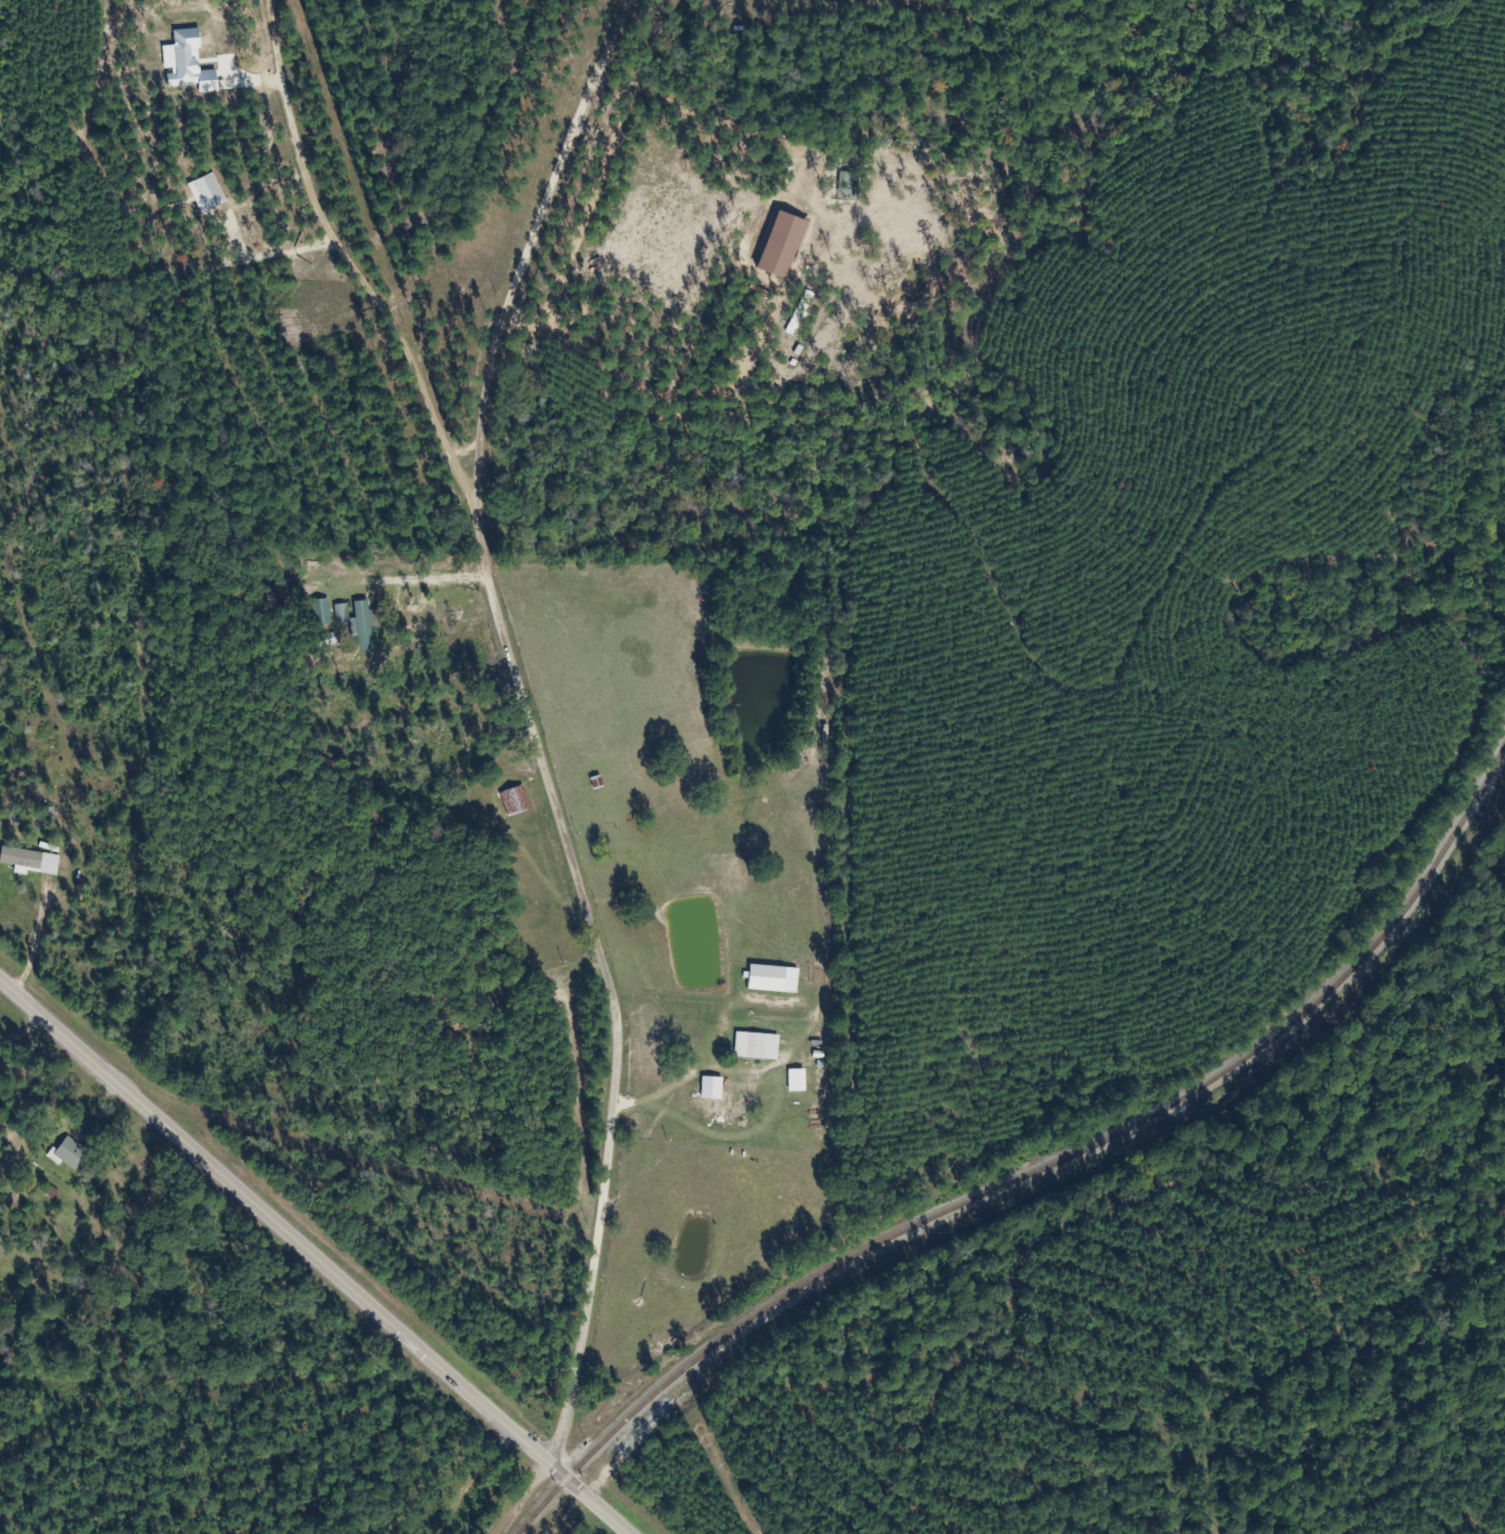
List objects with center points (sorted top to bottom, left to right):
building: (193, 64)
building: (211, 193)
road: (544, 224)
road: (335, 247)
building: (368, 626)
building: (34, 862)
road: (609, 956)
building: (778, 980)
building: (761, 1047)
building: (801, 1082)
building: (72, 1155)
railway: (1040, 1171)
road: (315, 1254)

